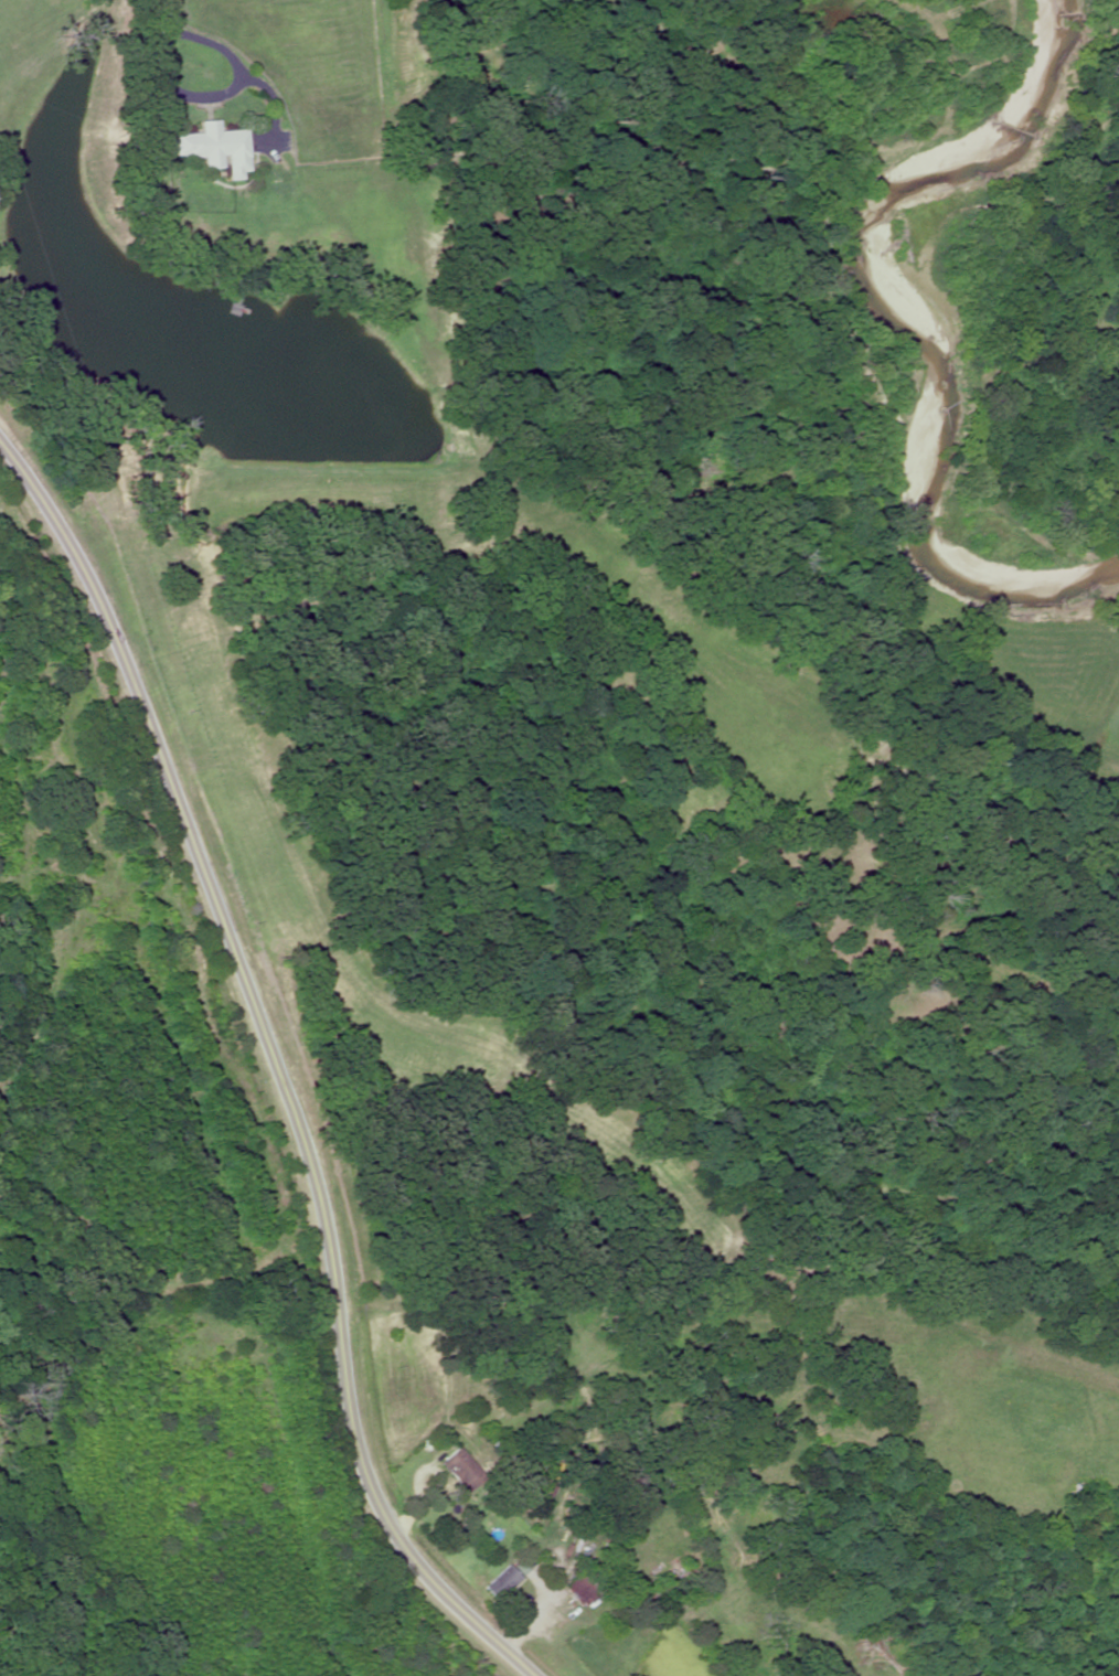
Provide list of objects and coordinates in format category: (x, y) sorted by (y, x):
building: (210, 149)
road: (276, 1064)
building: (458, 1471)
building: (499, 1582)
building: (578, 1589)

